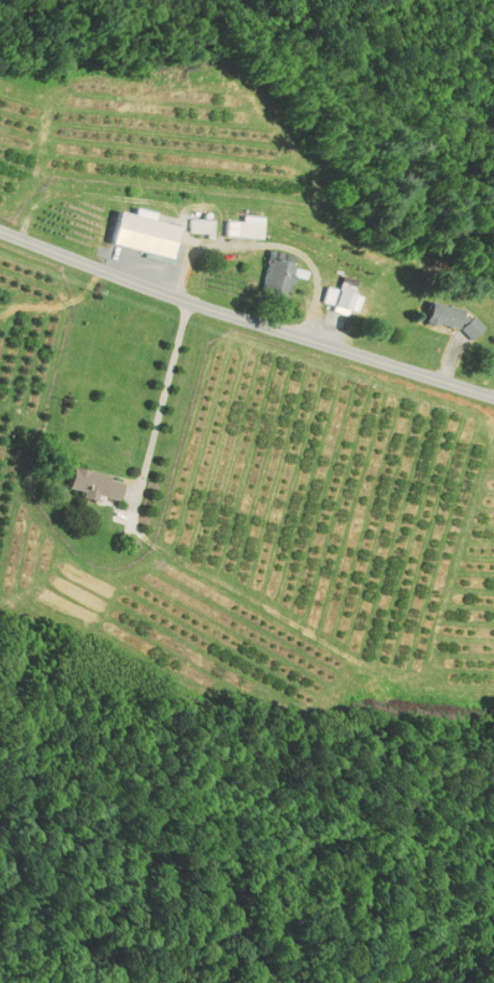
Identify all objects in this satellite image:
building: (200, 231)
building: (279, 273)
building: (336, 299)
road: (245, 315)
building: (450, 319)
road: (166, 394)
building: (93, 484)

